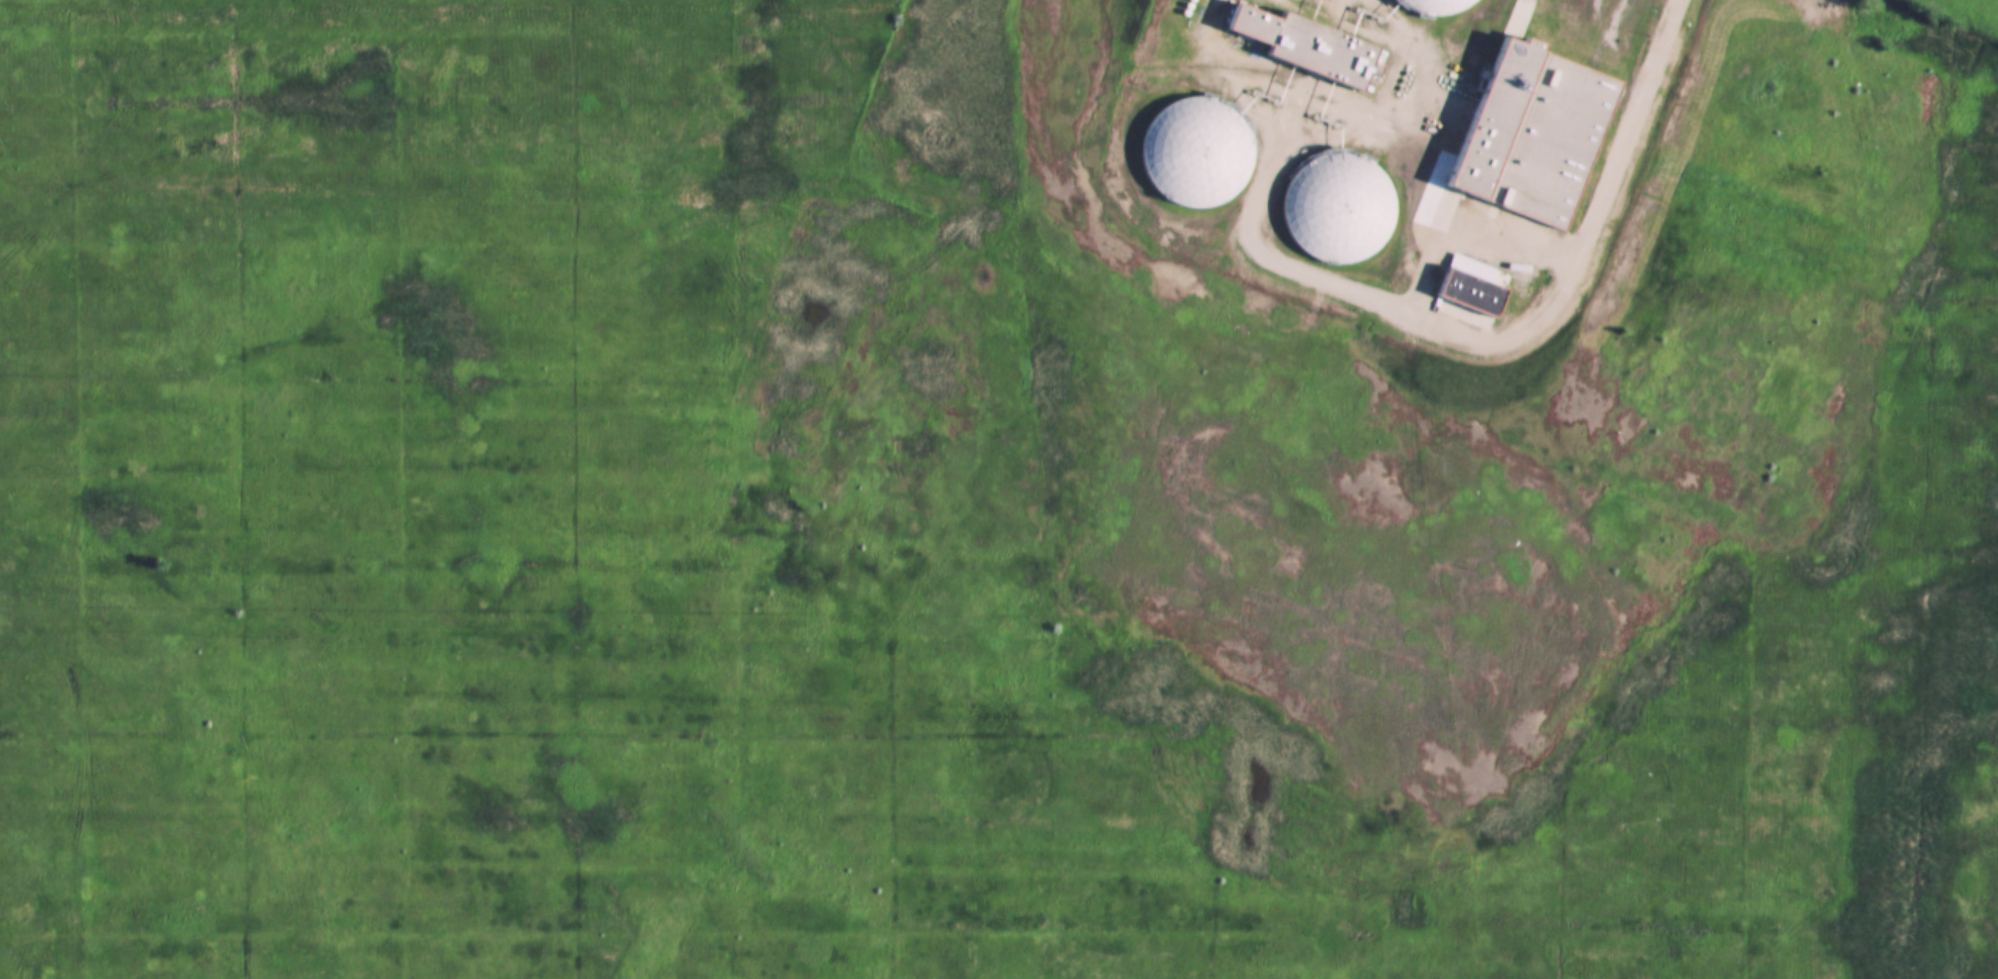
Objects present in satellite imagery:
building: (1261, 26)
road: (1643, 118)
building: (1537, 134)
building: (1192, 153)
wastewater plant: (1372, 164)
building: (1340, 209)
building: (1474, 296)

